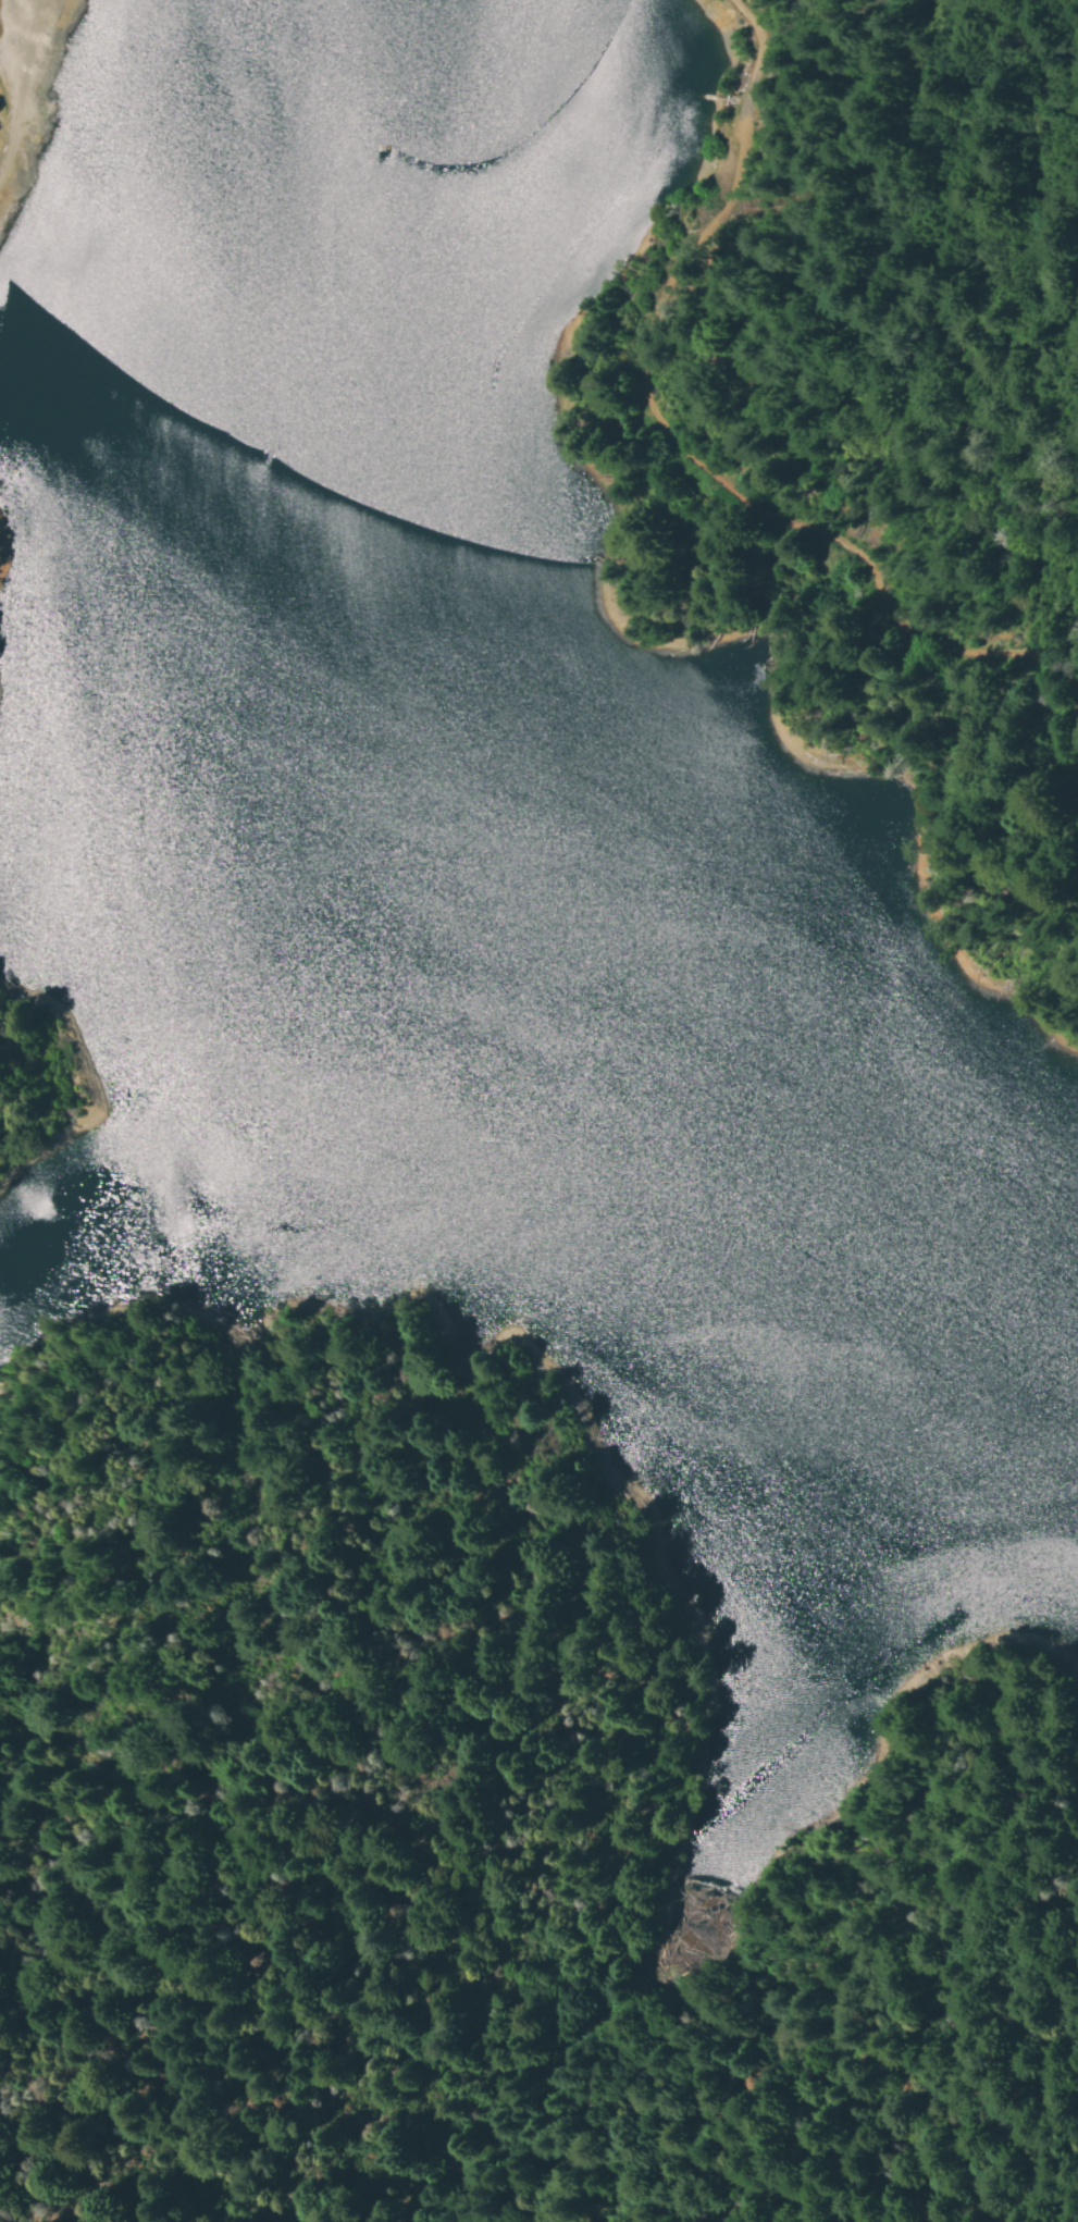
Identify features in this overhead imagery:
dam: (42, 2)
dam: (11, 138)
road: (2, 157)
road: (701, 455)

